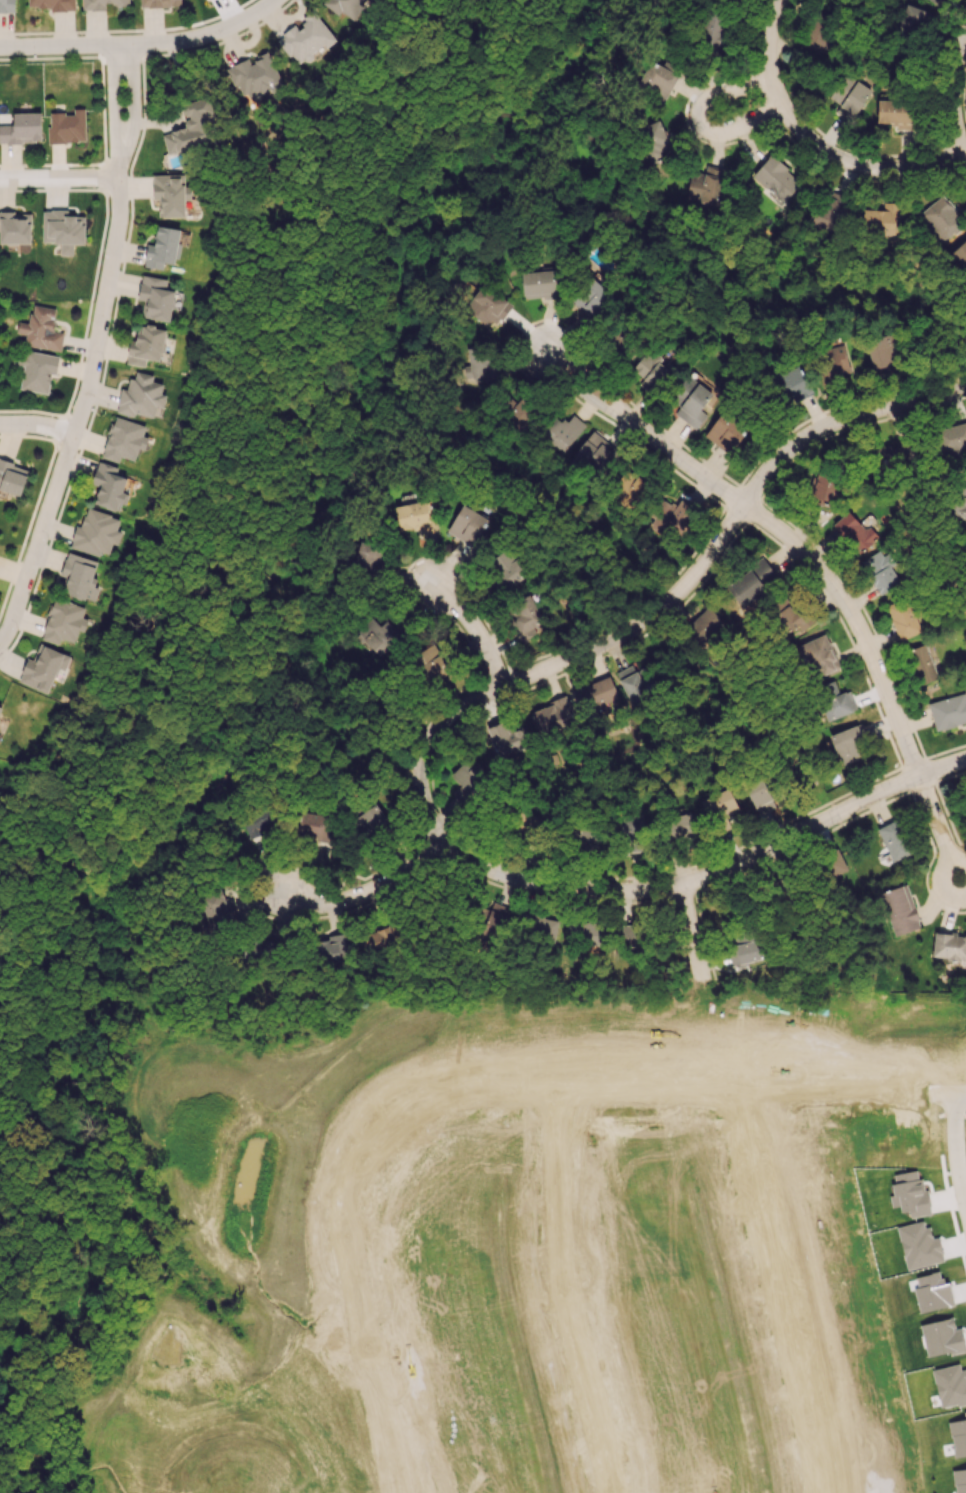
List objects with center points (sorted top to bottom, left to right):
building: (932, 1)
building: (159, 3)
building: (53, 4)
building: (103, 4)
building: (7, 5)
building: (345, 6)
building: (914, 21)
building: (712, 31)
building: (306, 38)
building: (818, 38)
road: (141, 43)
building: (254, 77)
building: (656, 80)
road: (957, 97)
building: (852, 99)
building: (894, 112)
road: (700, 116)
building: (67, 126)
building: (22, 129)
building: (185, 137)
road: (120, 138)
building: (654, 140)
road: (811, 144)
road: (58, 177)
building: (776, 178)
building: (705, 185)
building: (170, 194)
building: (830, 211)
building: (882, 217)
building: (942, 218)
building: (15, 227)
building: (64, 229)
building: (163, 247)
building: (960, 253)
building: (540, 283)
building: (155, 297)
building: (590, 297)
building: (487, 305)
building: (41, 329)
building: (619, 341)
building: (146, 345)
building: (880, 351)
building: (835, 361)
building: (481, 362)
building: (37, 370)
building: (650, 370)
building: (796, 383)
building: (140, 396)
road: (85, 397)
building: (690, 401)
road: (37, 425)
building: (562, 431)
building: (725, 431)
road: (644, 432)
building: (952, 438)
building: (124, 439)
building: (595, 454)
building: (889, 455)
building: (12, 477)
building: (109, 486)
building: (629, 487)
building: (824, 488)
building: (958, 505)
building: (415, 516)
building: (671, 517)
building: (468, 525)
building: (854, 531)
building: (96, 533)
building: (963, 543)
building: (370, 556)
building: (508, 570)
building: (880, 571)
building: (79, 576)
building: (750, 581)
road: (668, 607)
building: (788, 614)
building: (526, 617)
building: (903, 618)
building: (64, 621)
building: (706, 621)
road: (856, 626)
road: (470, 630)
building: (379, 636)
building: (821, 657)
building: (431, 663)
building: (922, 664)
building: (43, 667)
building: (632, 683)
building: (596, 695)
building: (835, 701)
building: (0, 708)
building: (948, 711)
building: (553, 714)
building: (506, 737)
building: (848, 743)
building: (467, 778)
building: (760, 796)
building: (718, 804)
building: (368, 819)
building: (527, 822)
building: (257, 825)
building: (316, 825)
building: (629, 826)
building: (680, 826)
road: (939, 829)
building: (588, 838)
building: (894, 839)
building: (832, 864)
road: (711, 877)
road: (368, 898)
building: (899, 910)
building: (496, 915)
building: (538, 926)
building: (586, 933)
road: (686, 935)
building: (633, 936)
building: (949, 946)
building: (262, 948)
building: (331, 949)
building: (746, 952)
road: (957, 1088)
road: (956, 1144)

